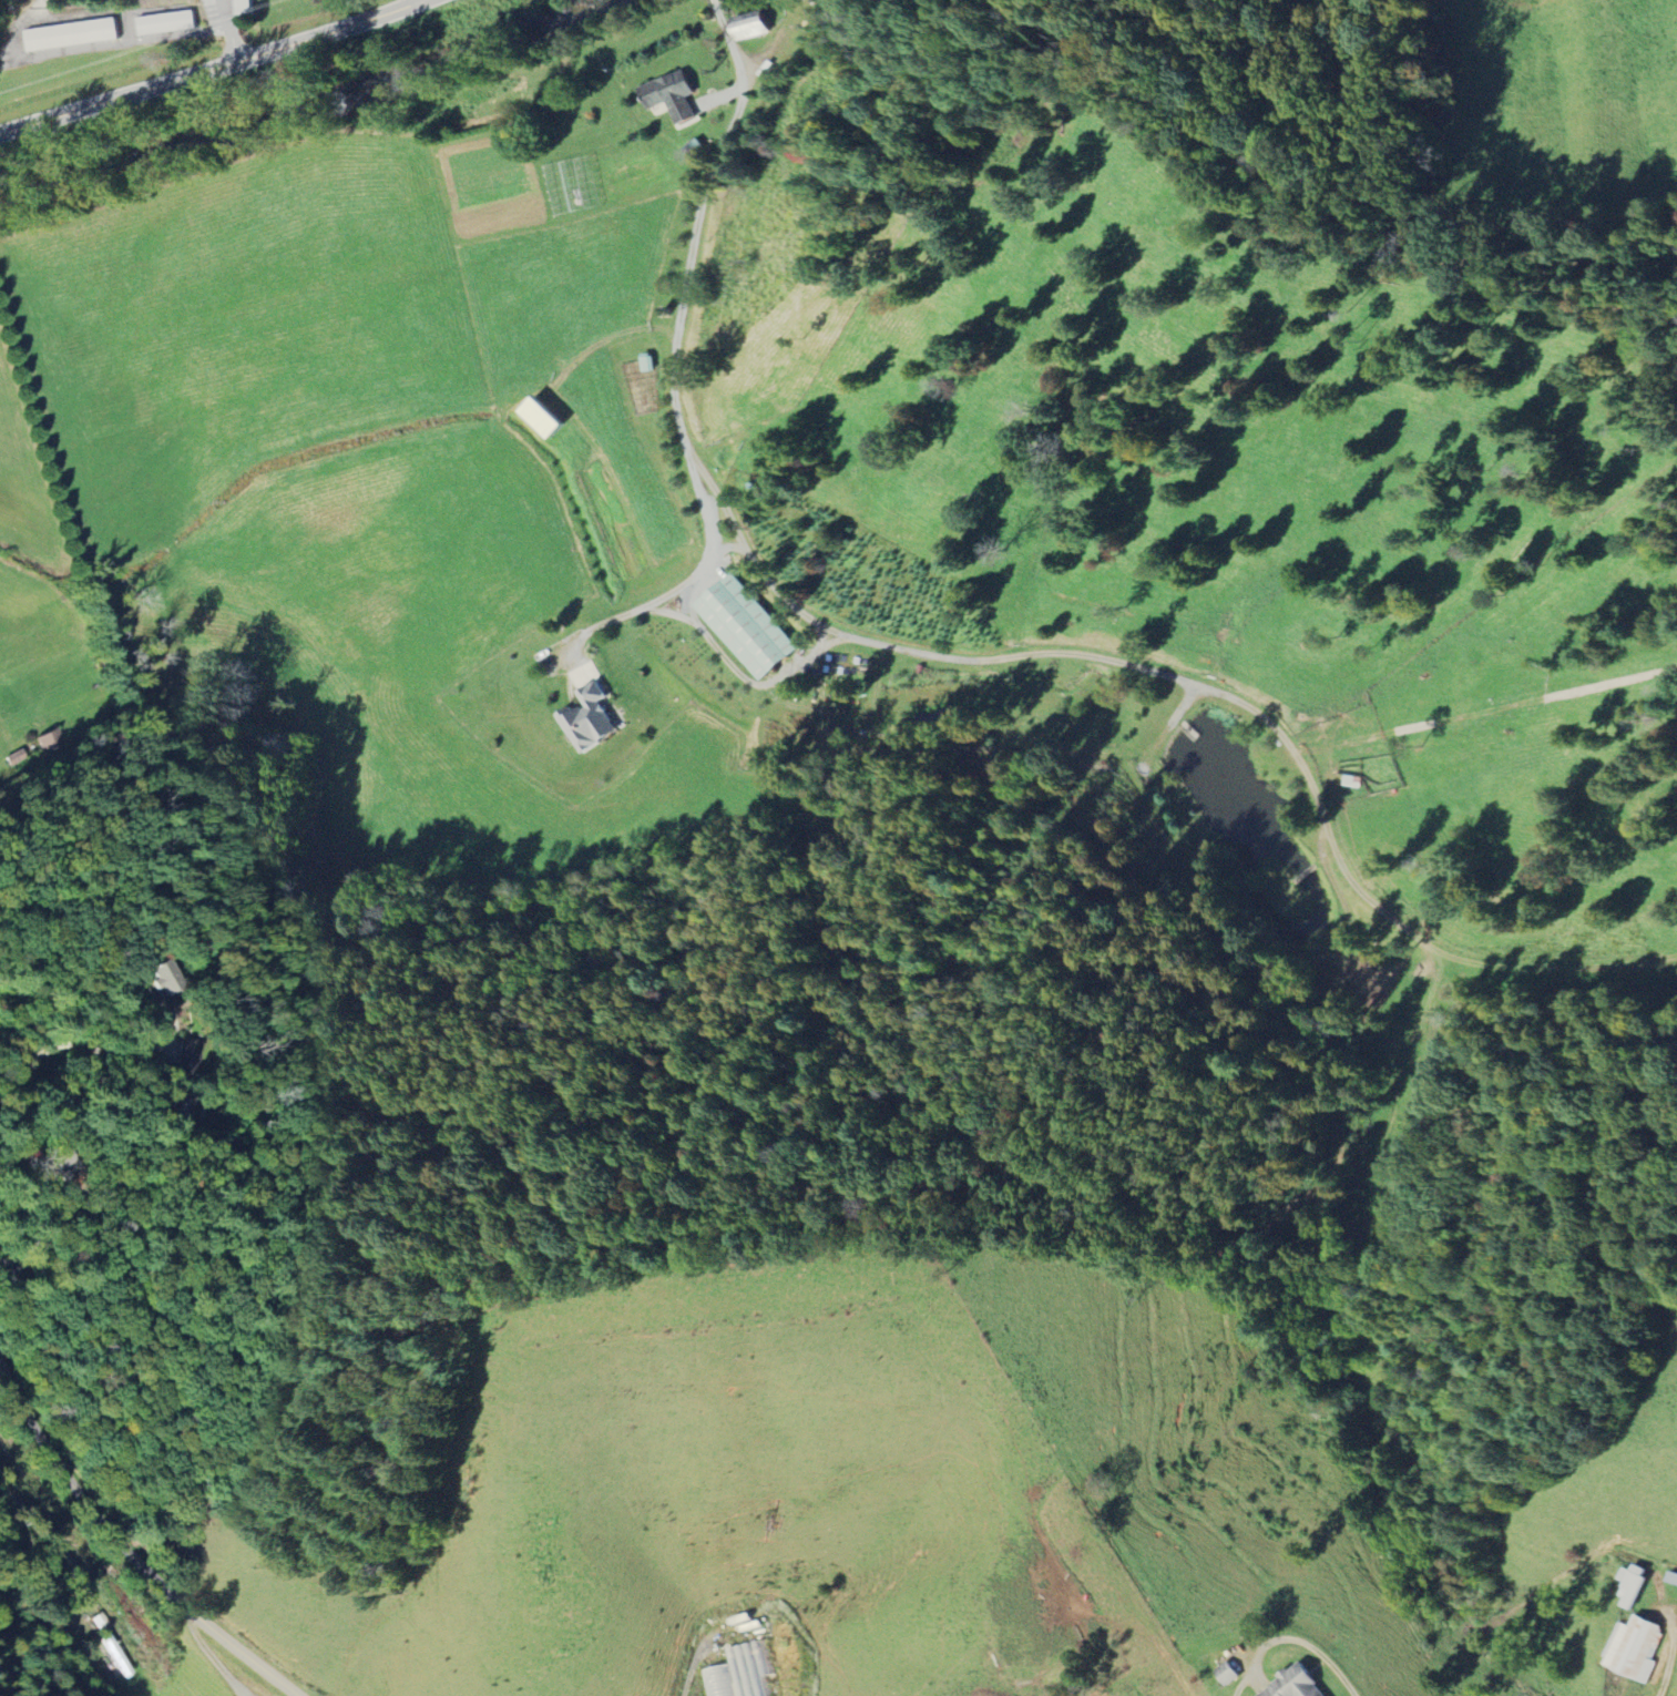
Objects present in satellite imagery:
road: (717, 3)
building: (246, 7)
building: (167, 23)
building: (753, 25)
building: (72, 34)
road: (213, 70)
building: (672, 95)
road: (684, 283)
building: (546, 417)
building: (748, 626)
building: (584, 676)
building: (591, 719)
road: (78, 1044)
road: (125, 1549)
road: (39, 1581)
building: (1635, 1584)
building: (1636, 1647)
road: (1669, 1658)
road: (688, 1671)
building: (742, 1673)
building: (1228, 1674)
building: (1297, 1684)

